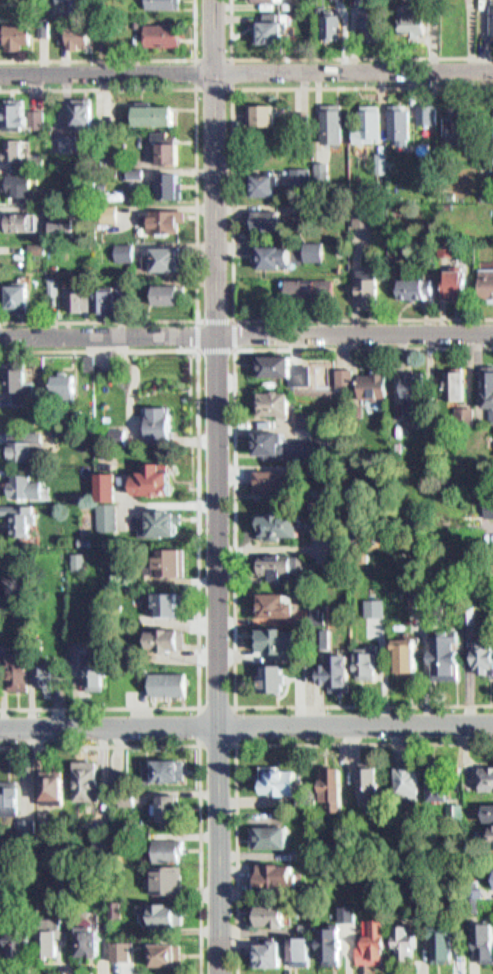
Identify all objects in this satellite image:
building: (152, 0)
building: (270, 0)
building: (60, 4)
building: (411, 10)
building: (365, 11)
building: (488, 16)
building: (376, 19)
building: (41, 20)
building: (325, 20)
building: (264, 22)
building: (333, 26)
building: (79, 28)
building: (161, 28)
building: (12, 30)
building: (21, 37)
road: (332, 50)
road: (118, 54)
road: (348, 65)
road: (101, 67)
road: (222, 79)
building: (418, 107)
building: (148, 108)
building: (254, 108)
building: (76, 110)
building: (12, 111)
building: (36, 112)
building: (428, 114)
building: (159, 115)
building: (455, 115)
building: (86, 116)
building: (264, 116)
building: (391, 116)
building: (329, 117)
building: (361, 117)
building: (466, 122)
building: (370, 125)
building: (402, 125)
building: (60, 136)
building: (70, 142)
building: (9, 143)
building: (162, 147)
building: (18, 149)
building: (173, 153)
building: (373, 155)
building: (127, 166)
building: (304, 168)
building: (255, 177)
building: (165, 179)
building: (14, 180)
building: (269, 183)
building: (173, 185)
building: (480, 190)
road: (222, 196)
road: (186, 198)
building: (354, 211)
building: (156, 213)
building: (255, 213)
building: (14, 215)
building: (365, 216)
building: (56, 222)
building: (67, 226)
building: (442, 241)
building: (30, 242)
building: (305, 244)
building: (116, 245)
building: (316, 250)
building: (270, 251)
building: (126, 252)
building: (161, 253)
building: (46, 262)
building: (447, 278)
building: (482, 278)
building: (46, 279)
building: (303, 279)
building: (361, 280)
building: (116, 281)
building: (403, 282)
building: (460, 284)
building: (55, 287)
building: (162, 287)
building: (417, 287)
building: (126, 288)
building: (311, 289)
building: (12, 290)
building: (371, 292)
building: (173, 294)
building: (69, 295)
building: (98, 295)
building: (24, 297)
building: (83, 300)
building: (108, 300)
road: (349, 325)
road: (103, 327)
road: (223, 343)
building: (283, 360)
building: (342, 367)
building: (14, 375)
building: (343, 376)
building: (374, 377)
building: (456, 377)
building: (60, 378)
building: (416, 382)
building: (69, 385)
building: (487, 390)
building: (279, 395)
building: (108, 411)
building: (308, 411)
building: (154, 416)
building: (308, 419)
building: (165, 423)
building: (138, 427)
road: (190, 430)
building: (274, 438)
building: (99, 439)
building: (20, 443)
building: (279, 479)
building: (150, 480)
road: (211, 486)
building: (104, 487)
building: (23, 489)
building: (76, 497)
building: (18, 517)
road: (231, 518)
building: (107, 519)
building: (160, 524)
building: (488, 524)
building: (288, 525)
building: (85, 541)
building: (79, 561)
building: (167, 563)
building: (282, 563)
building: (427, 604)
building: (165, 605)
building: (282, 605)
building: (334, 635)
building: (288, 637)
building: (161, 639)
building: (451, 655)
building: (486, 656)
building: (412, 657)
building: (375, 665)
building: (342, 671)
building: (40, 675)
building: (15, 676)
building: (93, 678)
building: (281, 679)
building: (167, 683)
road: (236, 706)
road: (100, 707)
road: (355, 724)
road: (108, 726)
road: (250, 743)
road: (200, 760)
building: (164, 771)
building: (488, 774)
building: (336, 776)
building: (85, 780)
building: (444, 780)
building: (275, 781)
building: (365, 784)
building: (406, 784)
building: (51, 785)
building: (329, 789)
building: (9, 797)
building: (490, 809)
building: (167, 811)
building: (455, 813)
building: (27, 824)
building: (490, 833)
building: (271, 838)
building: (311, 849)
building: (166, 850)
building: (271, 874)
building: (167, 881)
building: (474, 895)
building: (116, 909)
building: (157, 913)
building: (346, 914)
building: (267, 918)
building: (51, 936)
building: (411, 940)
building: (85, 941)
building: (482, 941)
building: (401, 942)
building: (23, 943)
building: (369, 943)
building: (439, 945)
building: (328, 946)
building: (300, 951)
building: (266, 954)
building: (163, 955)

